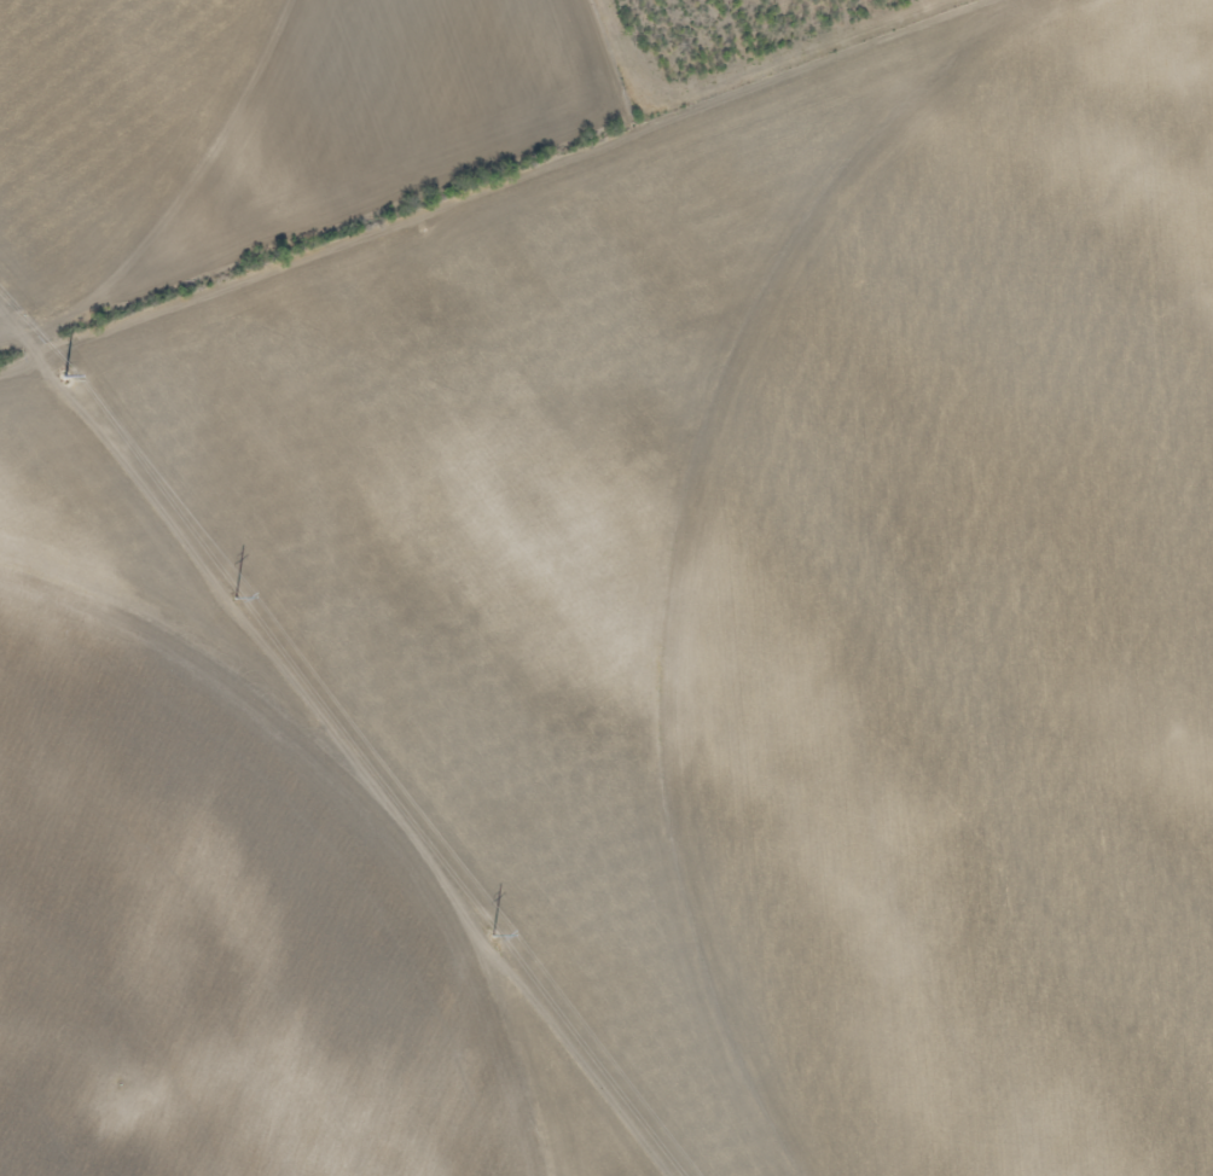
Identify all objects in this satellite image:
power tower: (56, 366)
power tower: (228, 590)
power tower: (486, 927)

